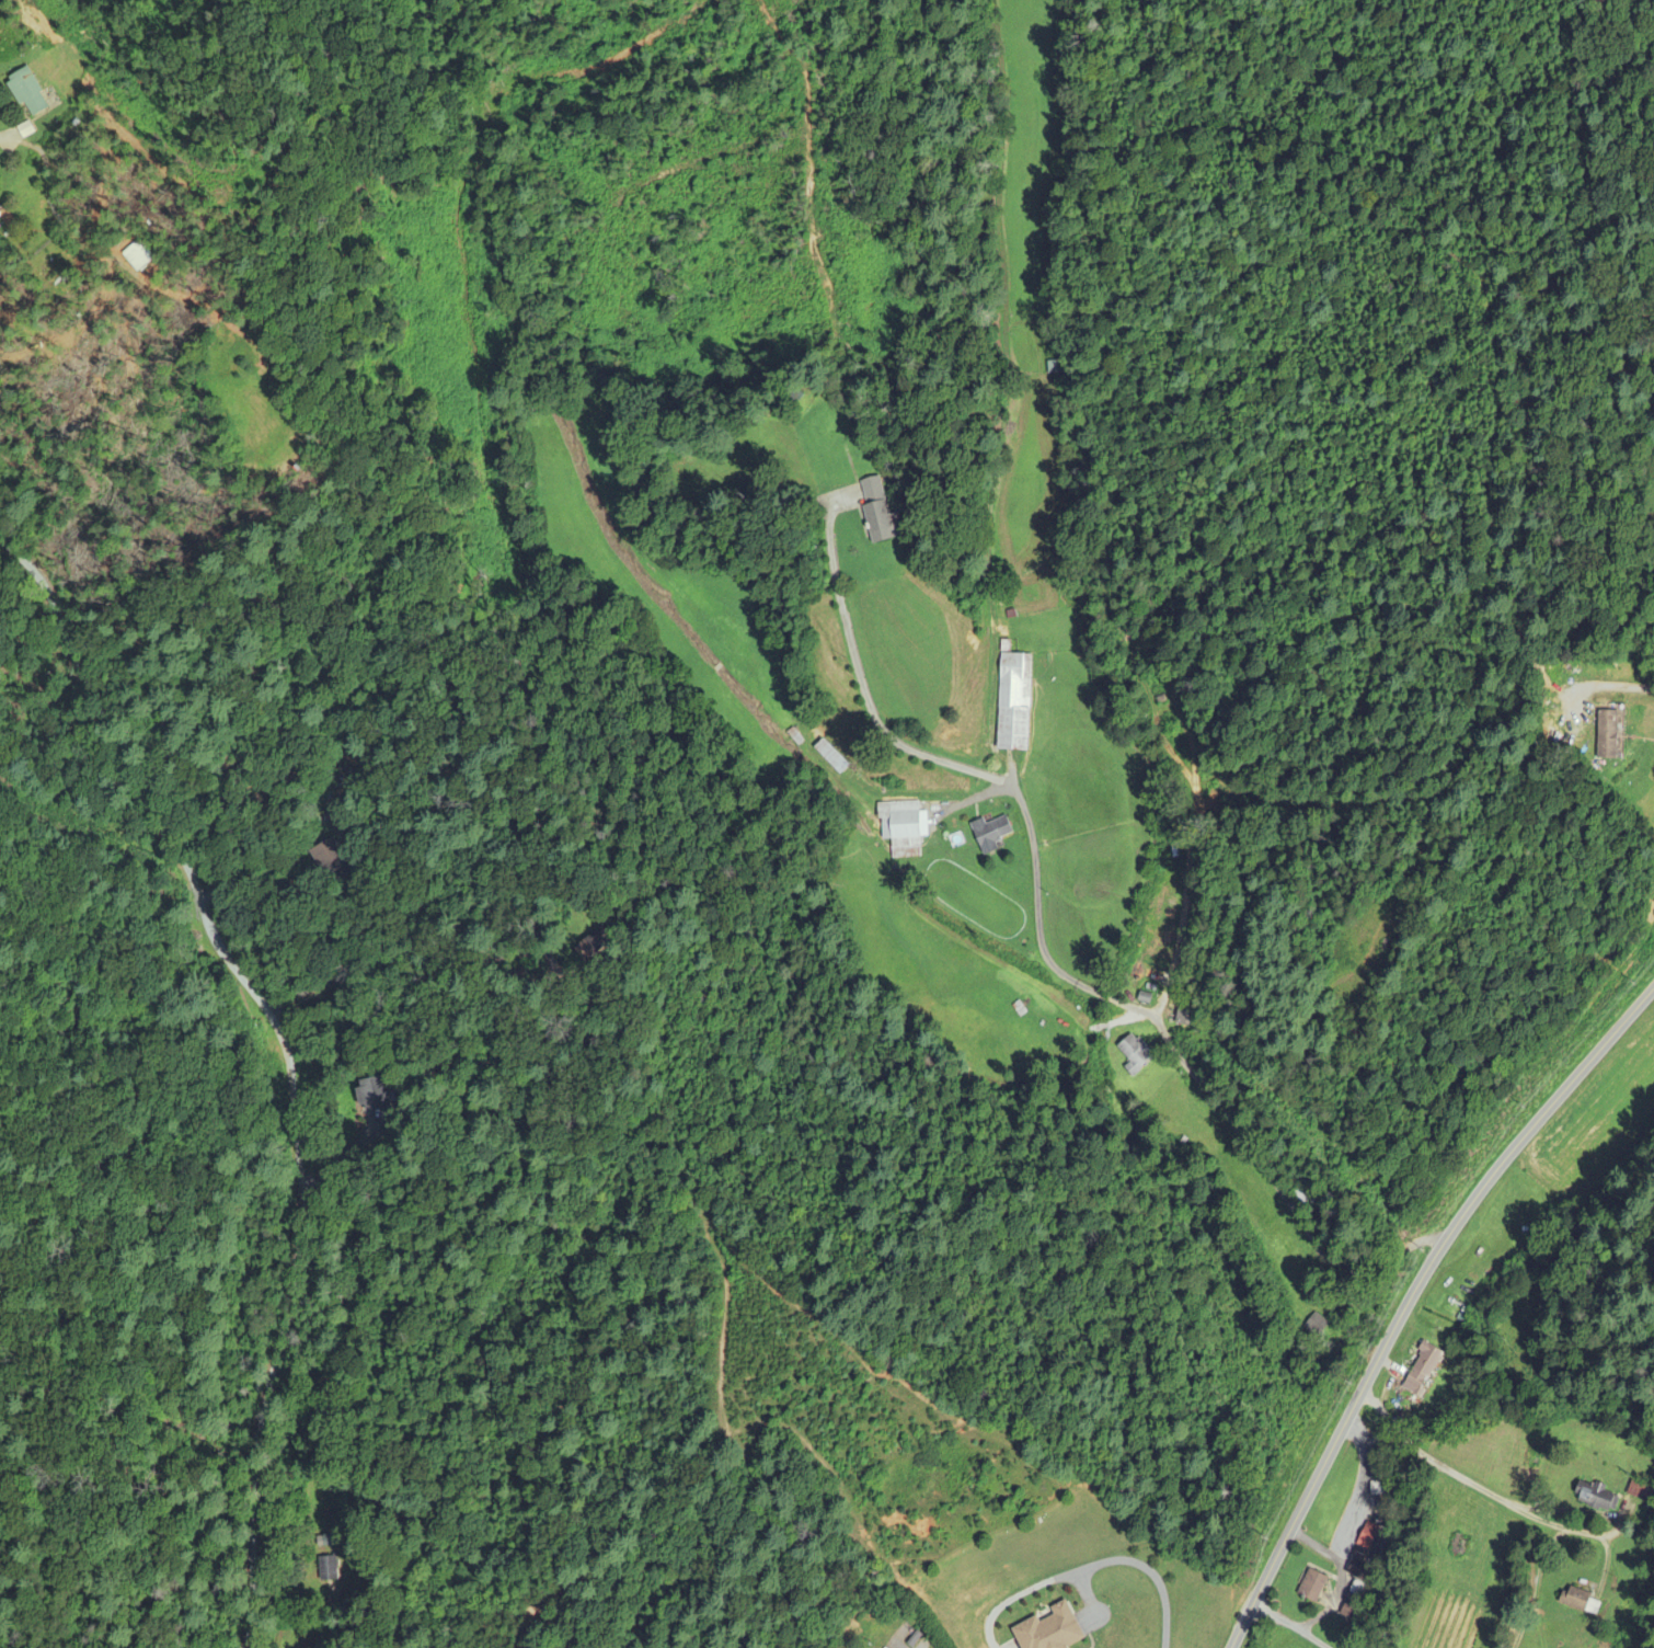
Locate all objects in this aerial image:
building: (27, 94)
building: (134, 259)
building: (874, 506)
road: (1630, 688)
building: (1014, 701)
building: (1607, 734)
building: (830, 757)
building: (900, 828)
building: (990, 834)
building: (329, 861)
building: (595, 942)
road: (1043, 954)
building: (1183, 1015)
building: (1135, 1055)
road: (292, 1058)
building: (370, 1094)
building: (1300, 1188)
road: (1410, 1297)
building: (1316, 1327)
building: (1422, 1371)
road: (1450, 1475)
building: (1596, 1498)
road: (1353, 1529)
road: (1318, 1544)
building: (1364, 1556)
road: (1138, 1563)
road: (1534, 1586)
building: (1312, 1587)
building: (1580, 1601)
building: (1349, 1612)
road: (1289, 1625)
building: (1049, 1630)
road: (900, 1644)

